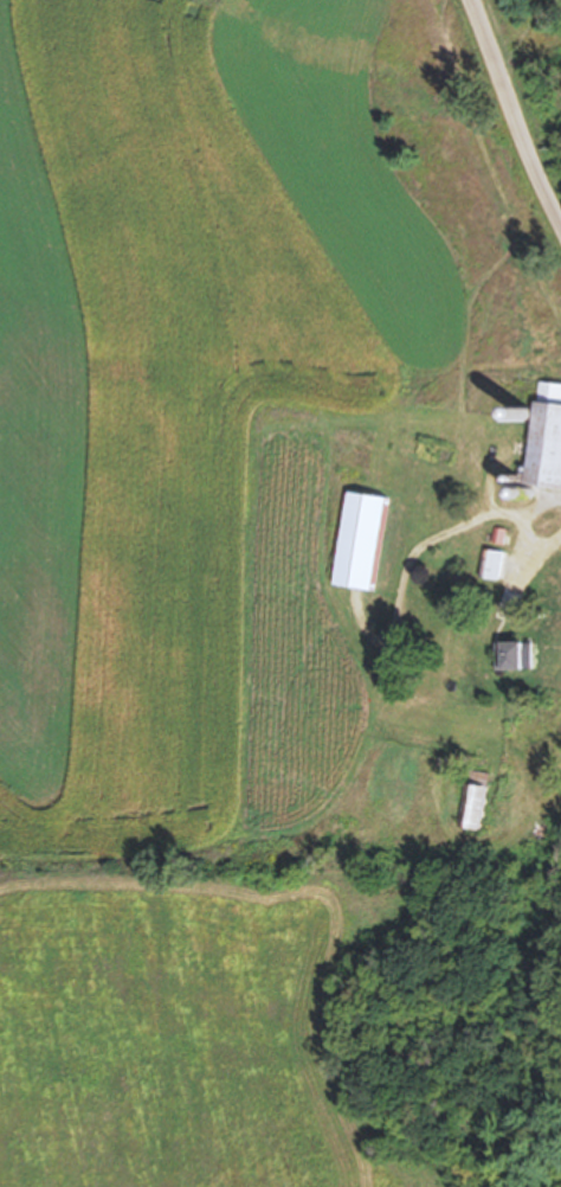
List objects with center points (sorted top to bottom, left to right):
road: (515, 109)
building: (546, 437)
road: (440, 533)
road: (531, 539)
building: (360, 541)
building: (490, 564)
building: (516, 656)
building: (472, 807)

